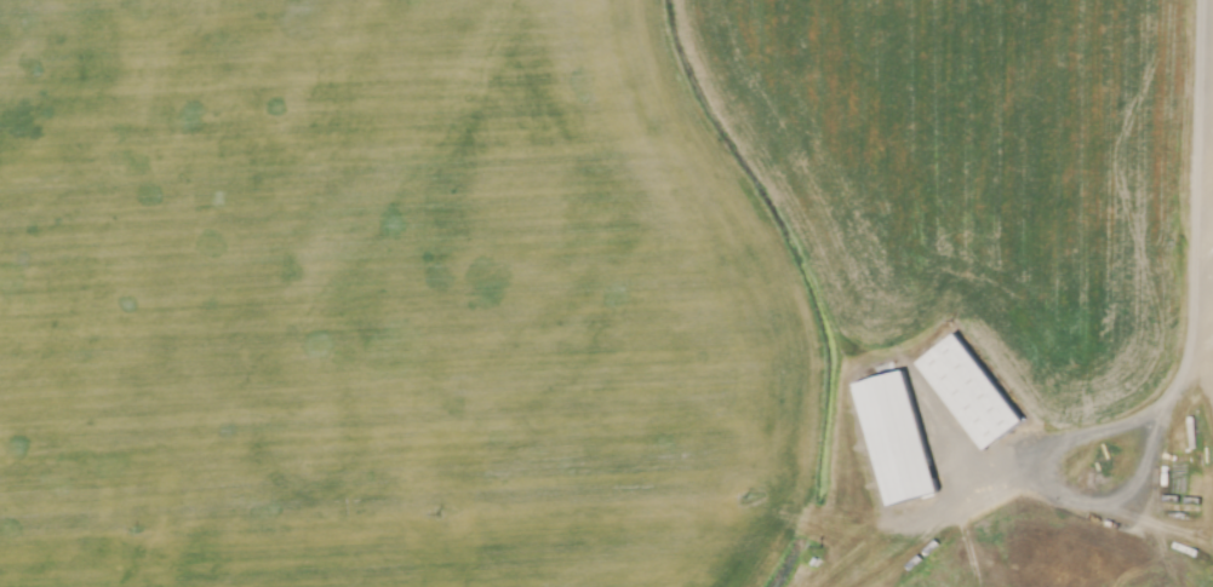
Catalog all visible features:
road: (1192, 255)
building: (969, 395)
building: (897, 443)
road: (1046, 444)

